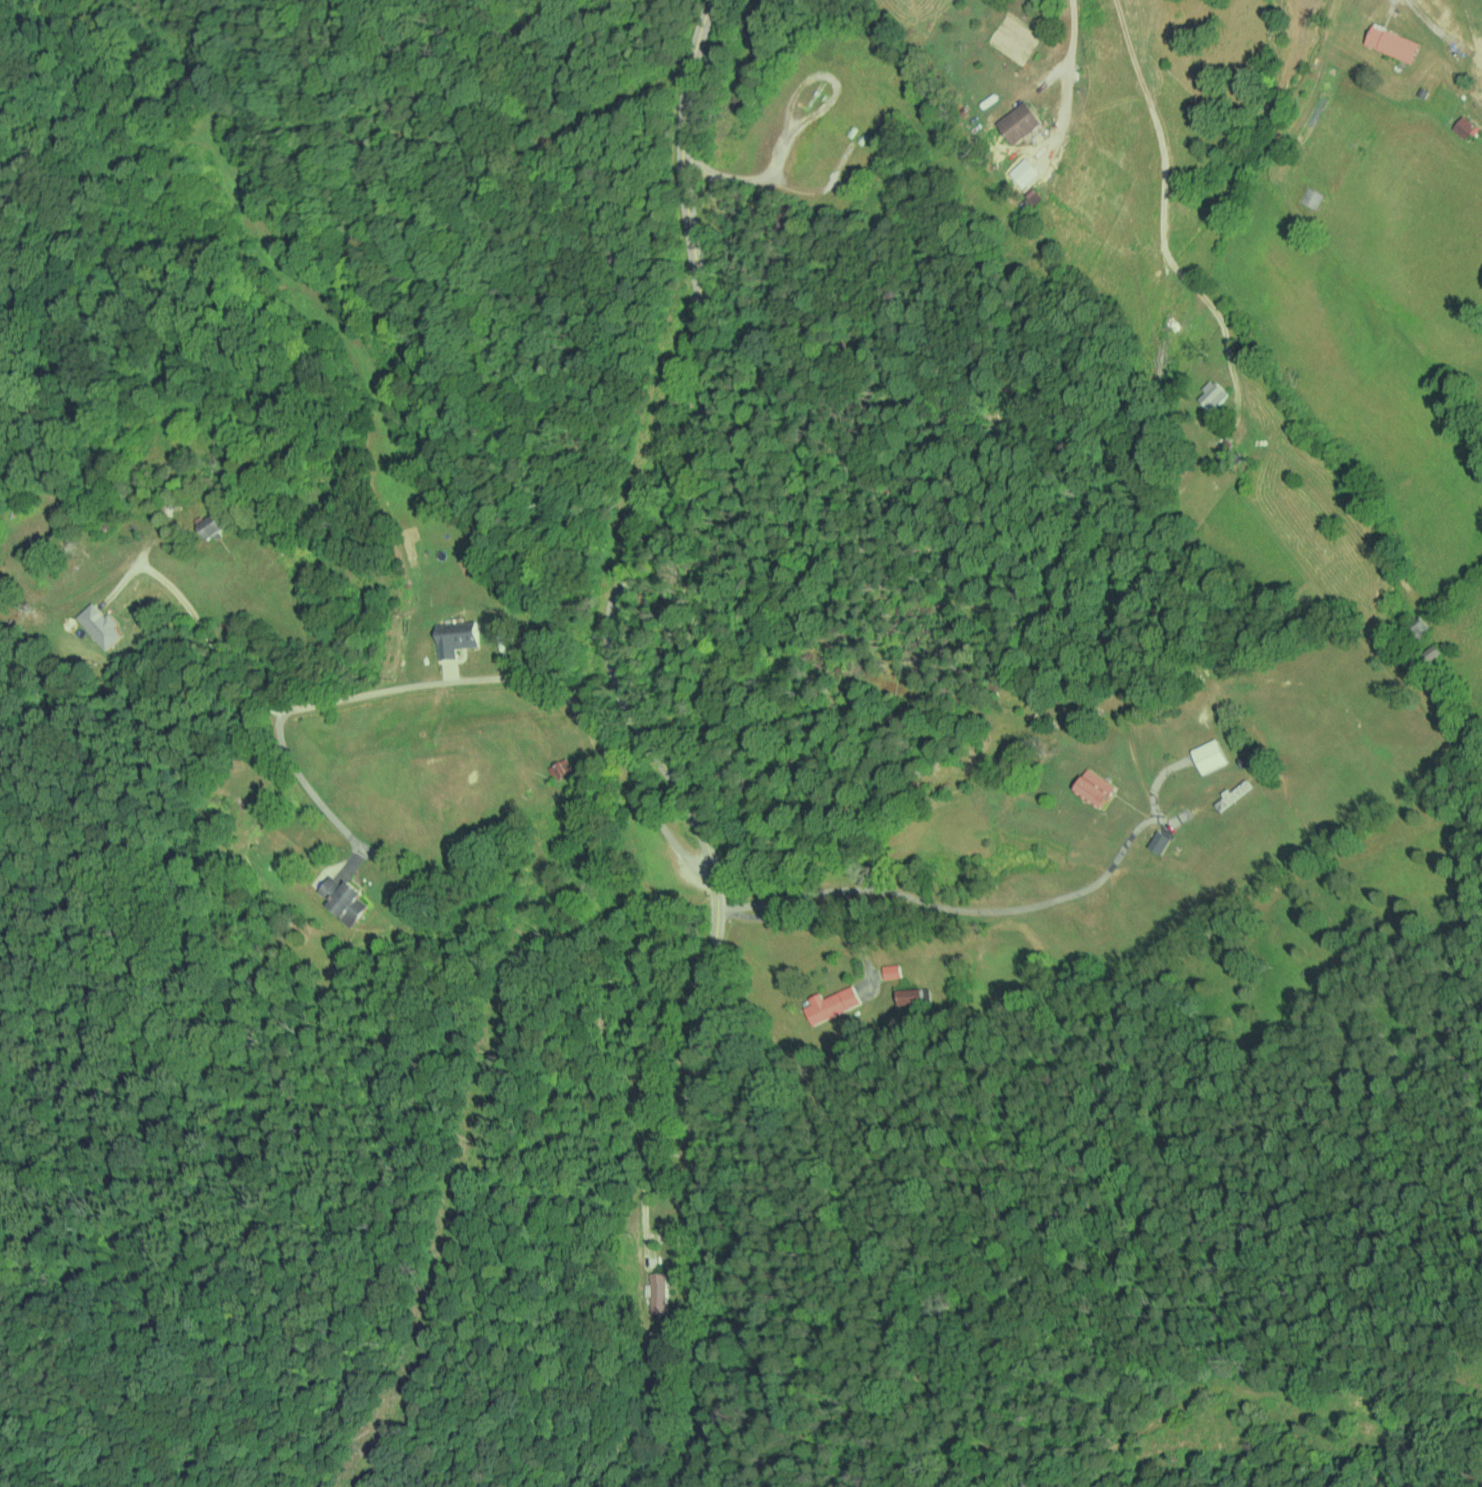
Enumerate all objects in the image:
road: (1396, 2)
building: (1392, 43)
road: (1064, 67)
building: (1019, 122)
road: (774, 182)
building: (1212, 395)
building: (210, 524)
building: (100, 625)
building: (1420, 626)
building: (456, 637)
road: (208, 641)
building: (1431, 651)
road: (461, 679)
road: (646, 733)
building: (1209, 755)
building: (1094, 787)
building: (1159, 841)
building: (343, 899)
road: (953, 906)
building: (891, 971)
building: (909, 996)
building: (831, 1003)
building: (658, 1286)
building: (660, 1306)

